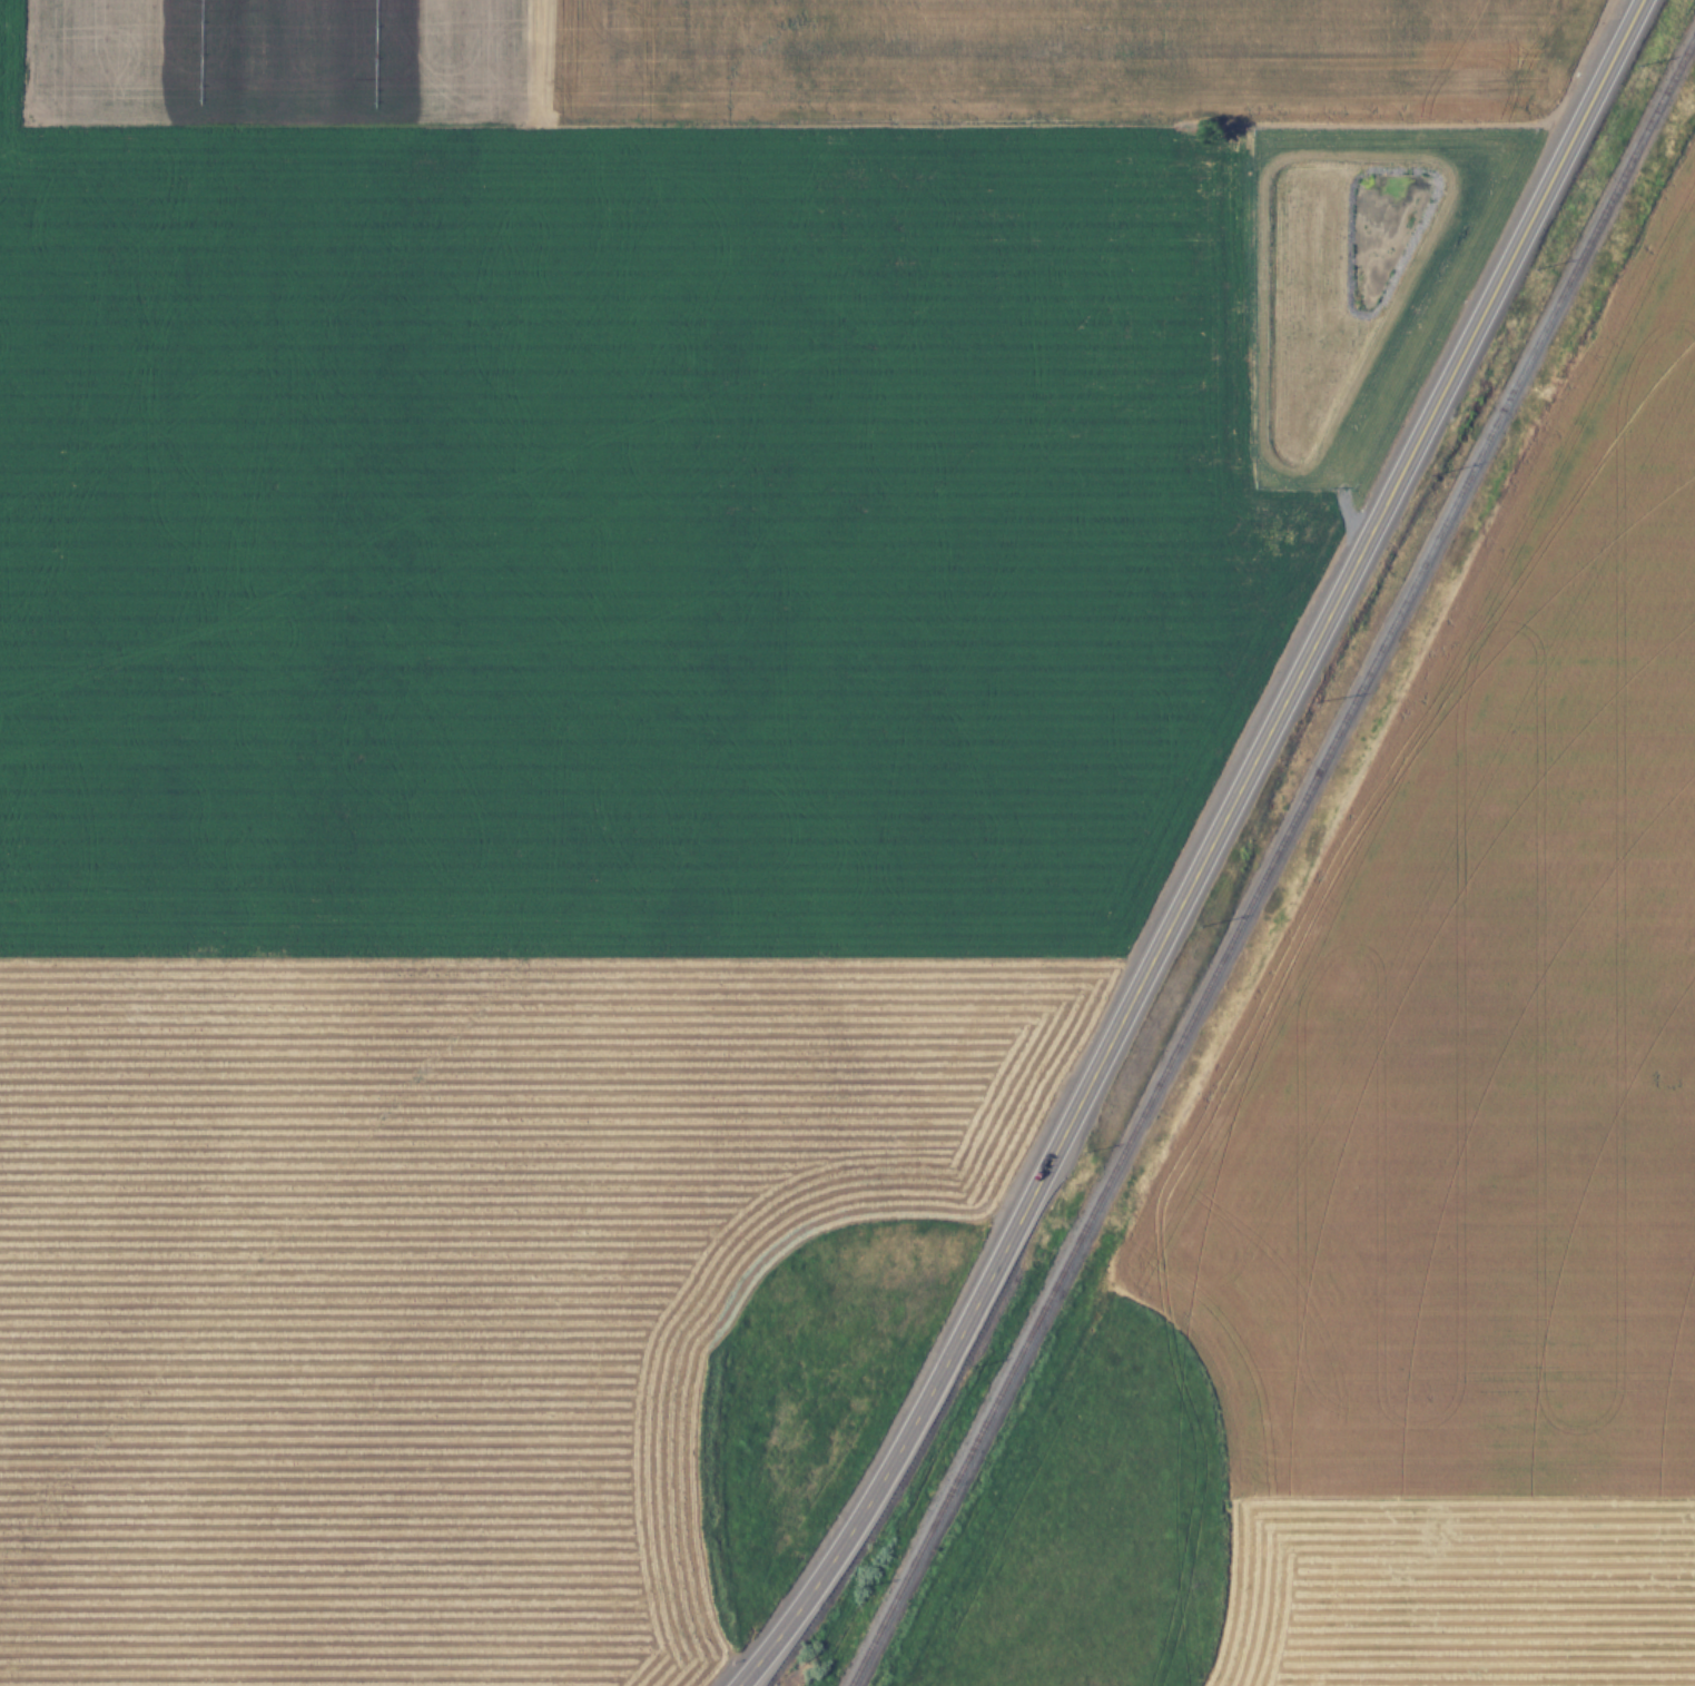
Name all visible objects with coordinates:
road: (1208, 854)
railway: (1270, 859)
crop: (436, 1281)
crop: (1455, 1591)

